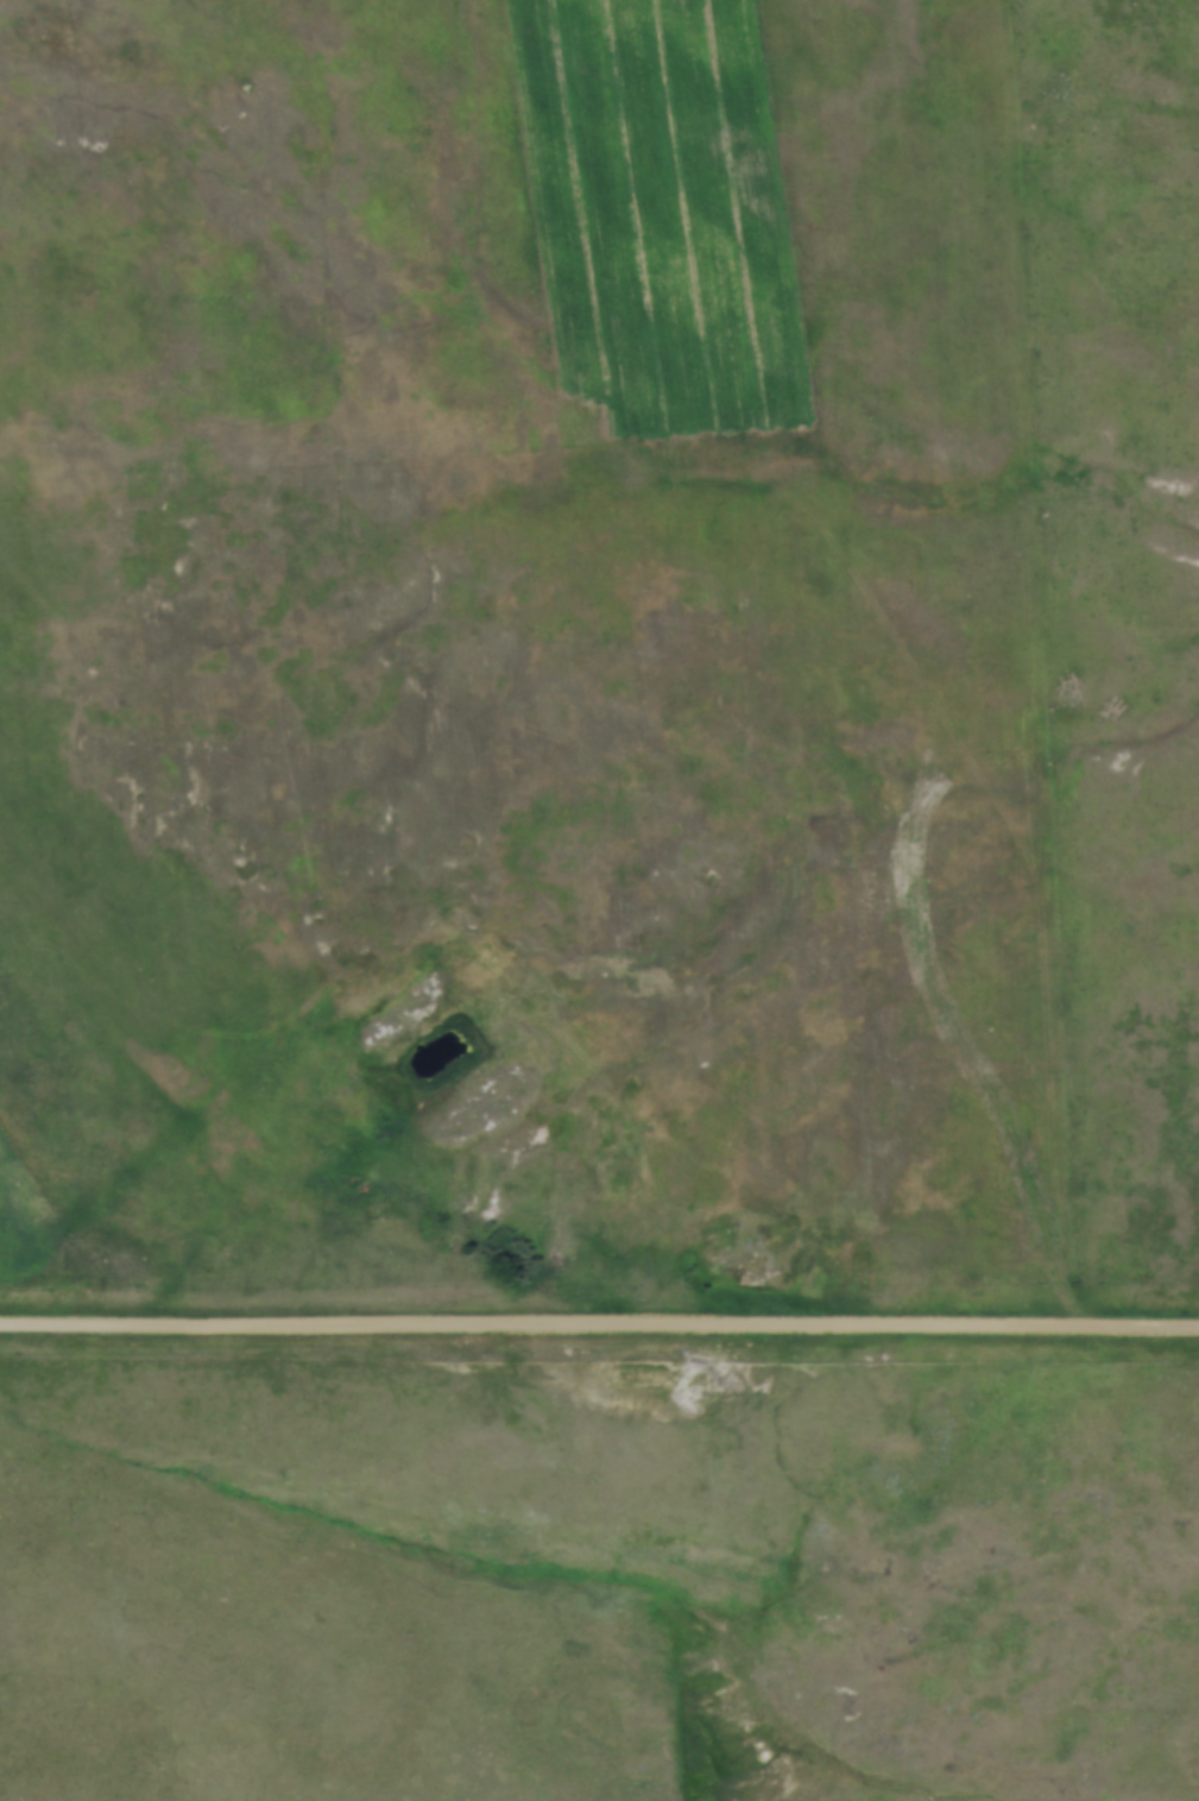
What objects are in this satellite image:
road: (599, 1306)

